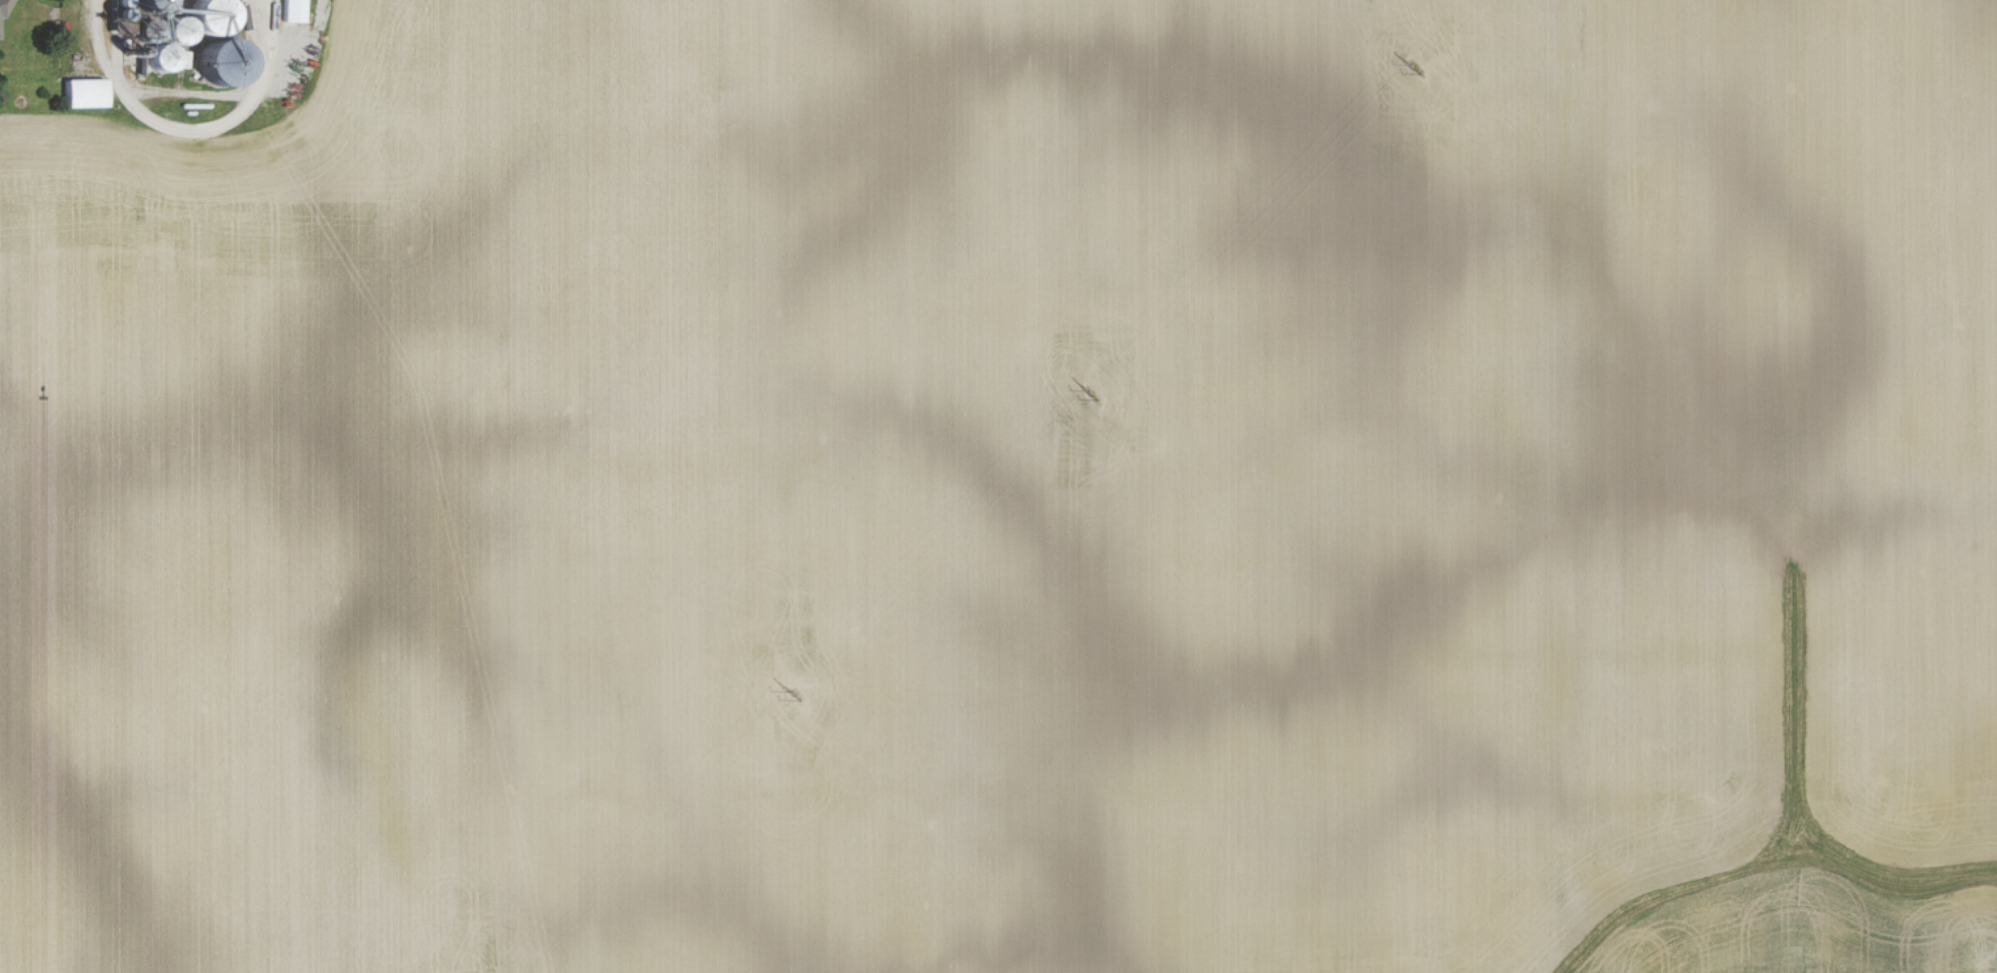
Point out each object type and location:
building: (293, 10)
power tower: (1417, 68)
building: (84, 92)
road: (186, 128)
power tower: (1096, 395)
power tower: (797, 699)

